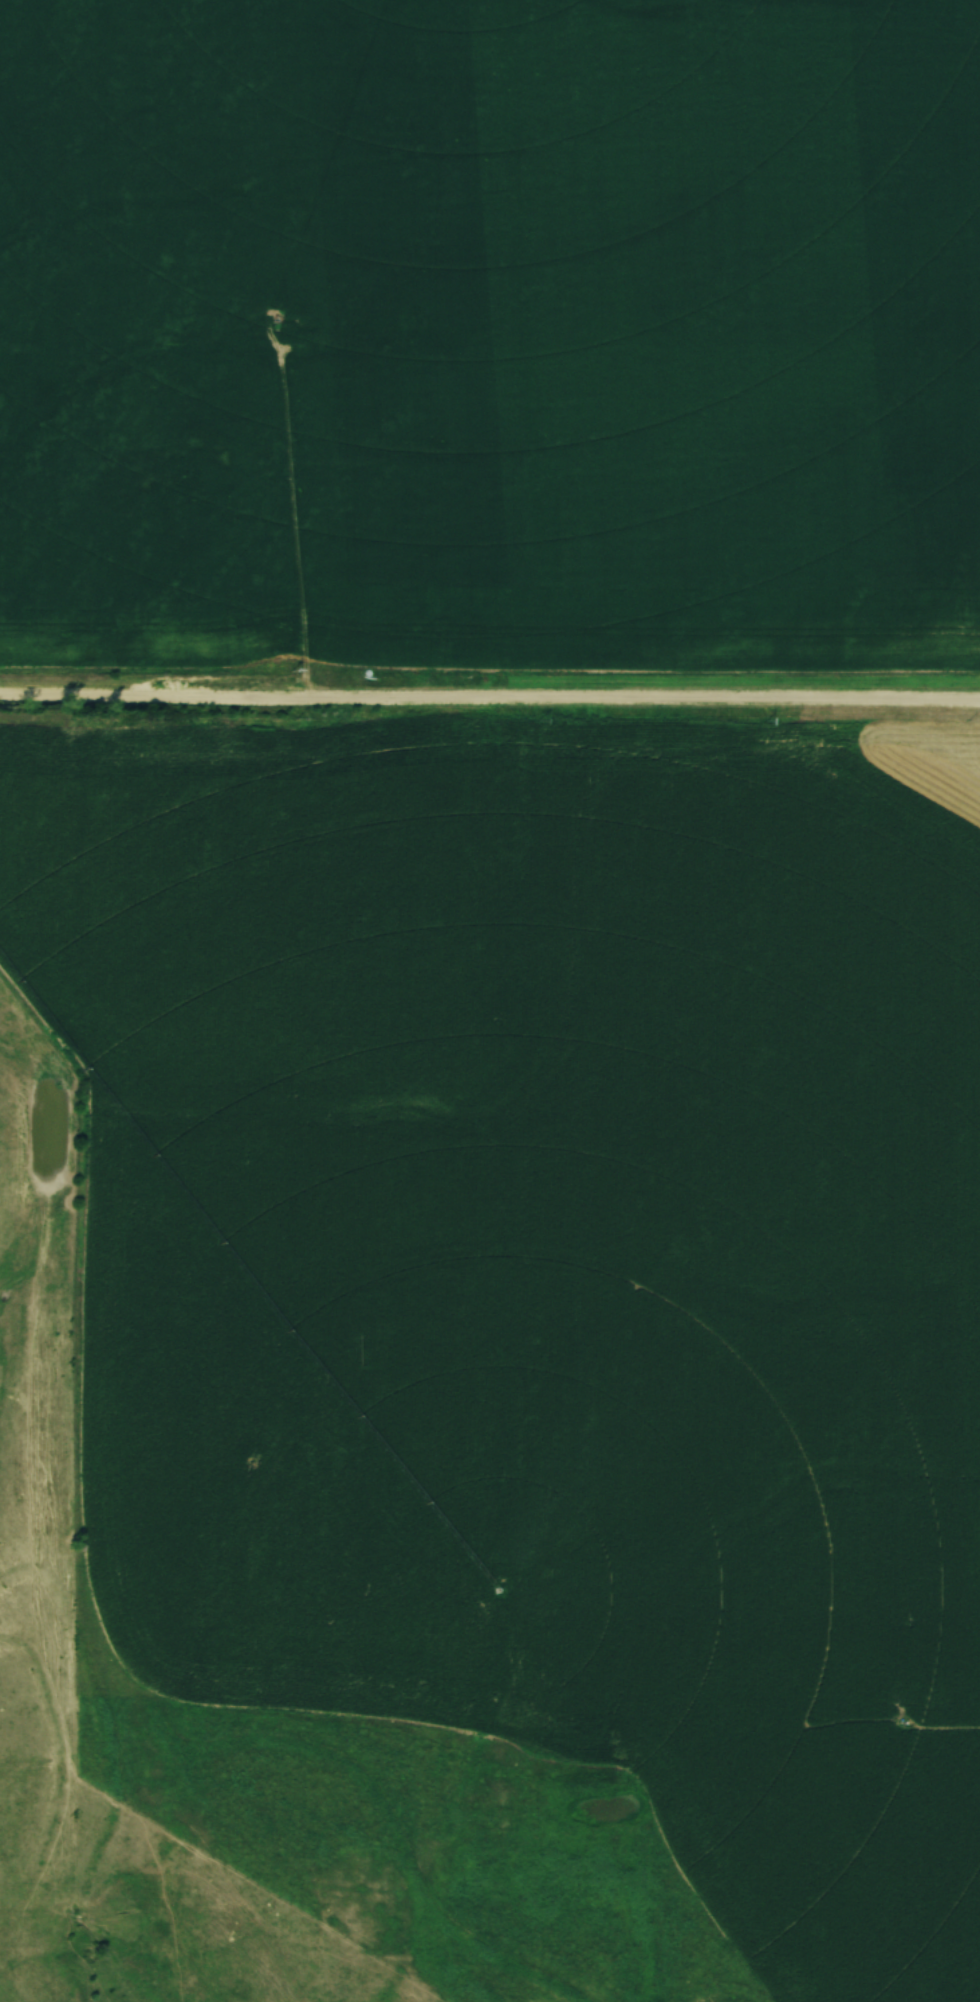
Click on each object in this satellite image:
road: (489, 696)

